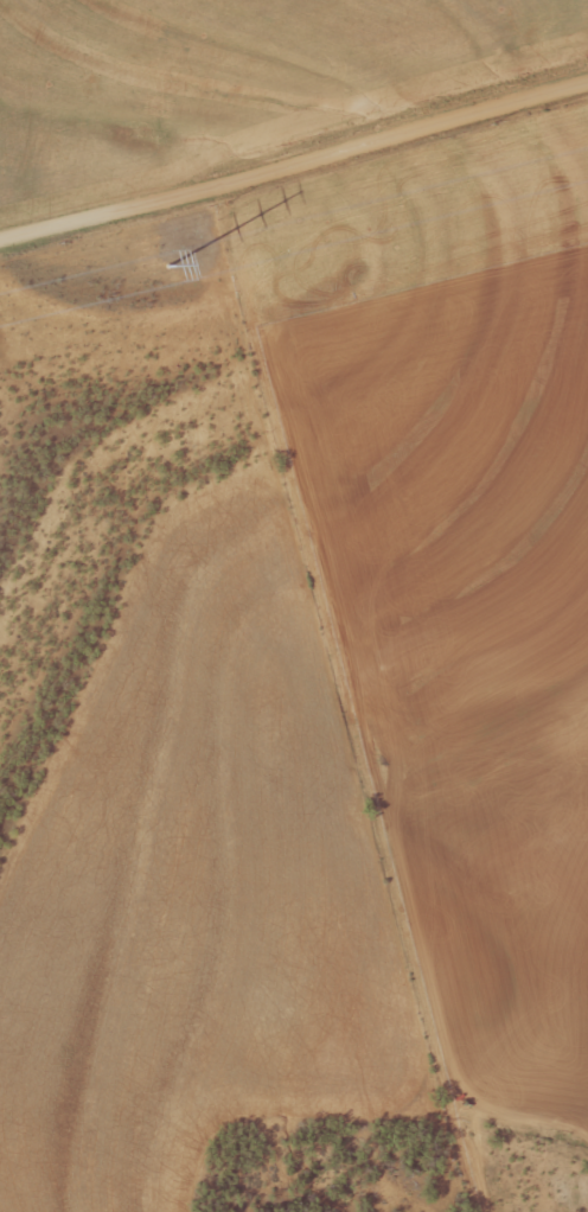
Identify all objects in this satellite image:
road: (294, 160)
power tower: (168, 266)

